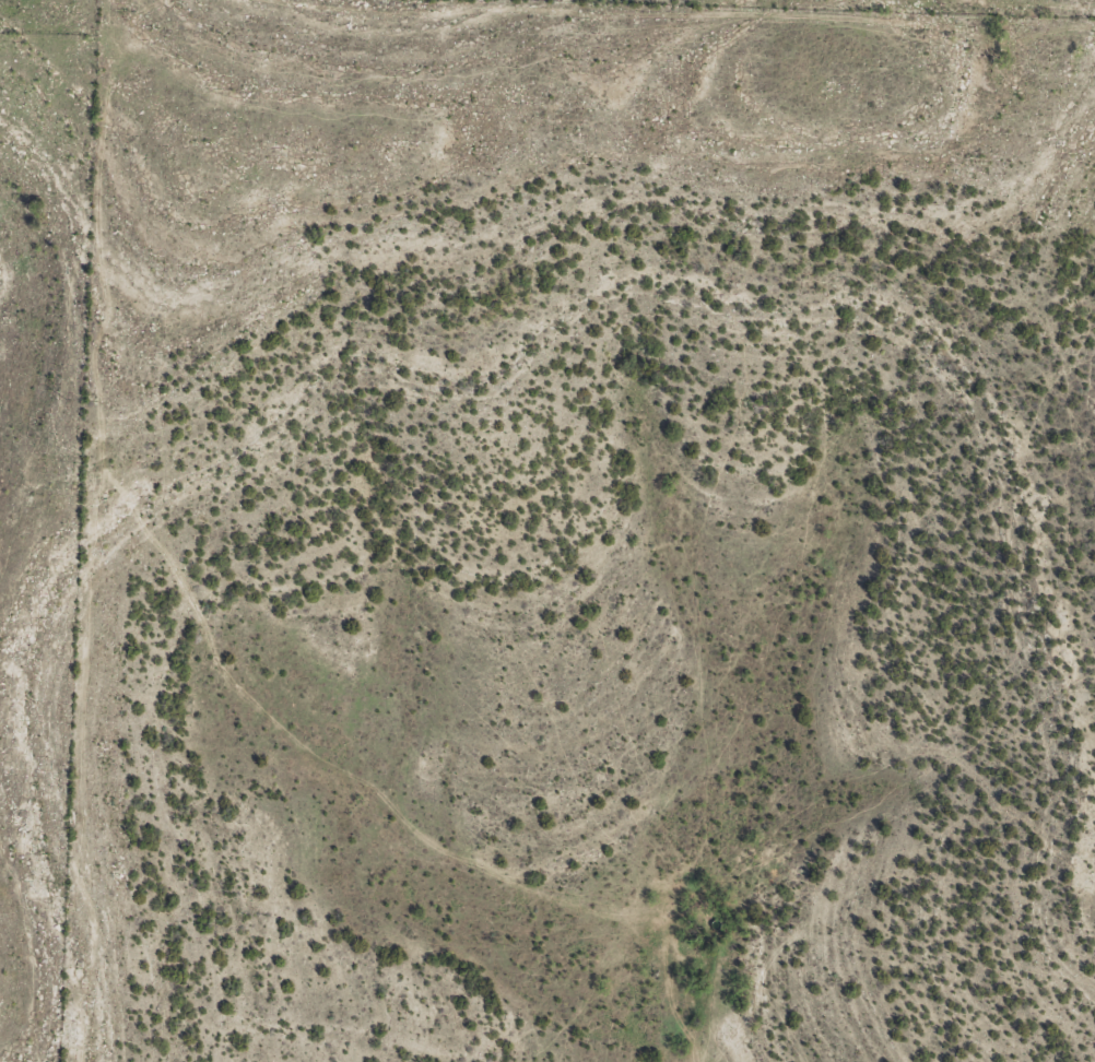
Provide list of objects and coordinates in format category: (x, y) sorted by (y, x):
road: (708, 1030)

